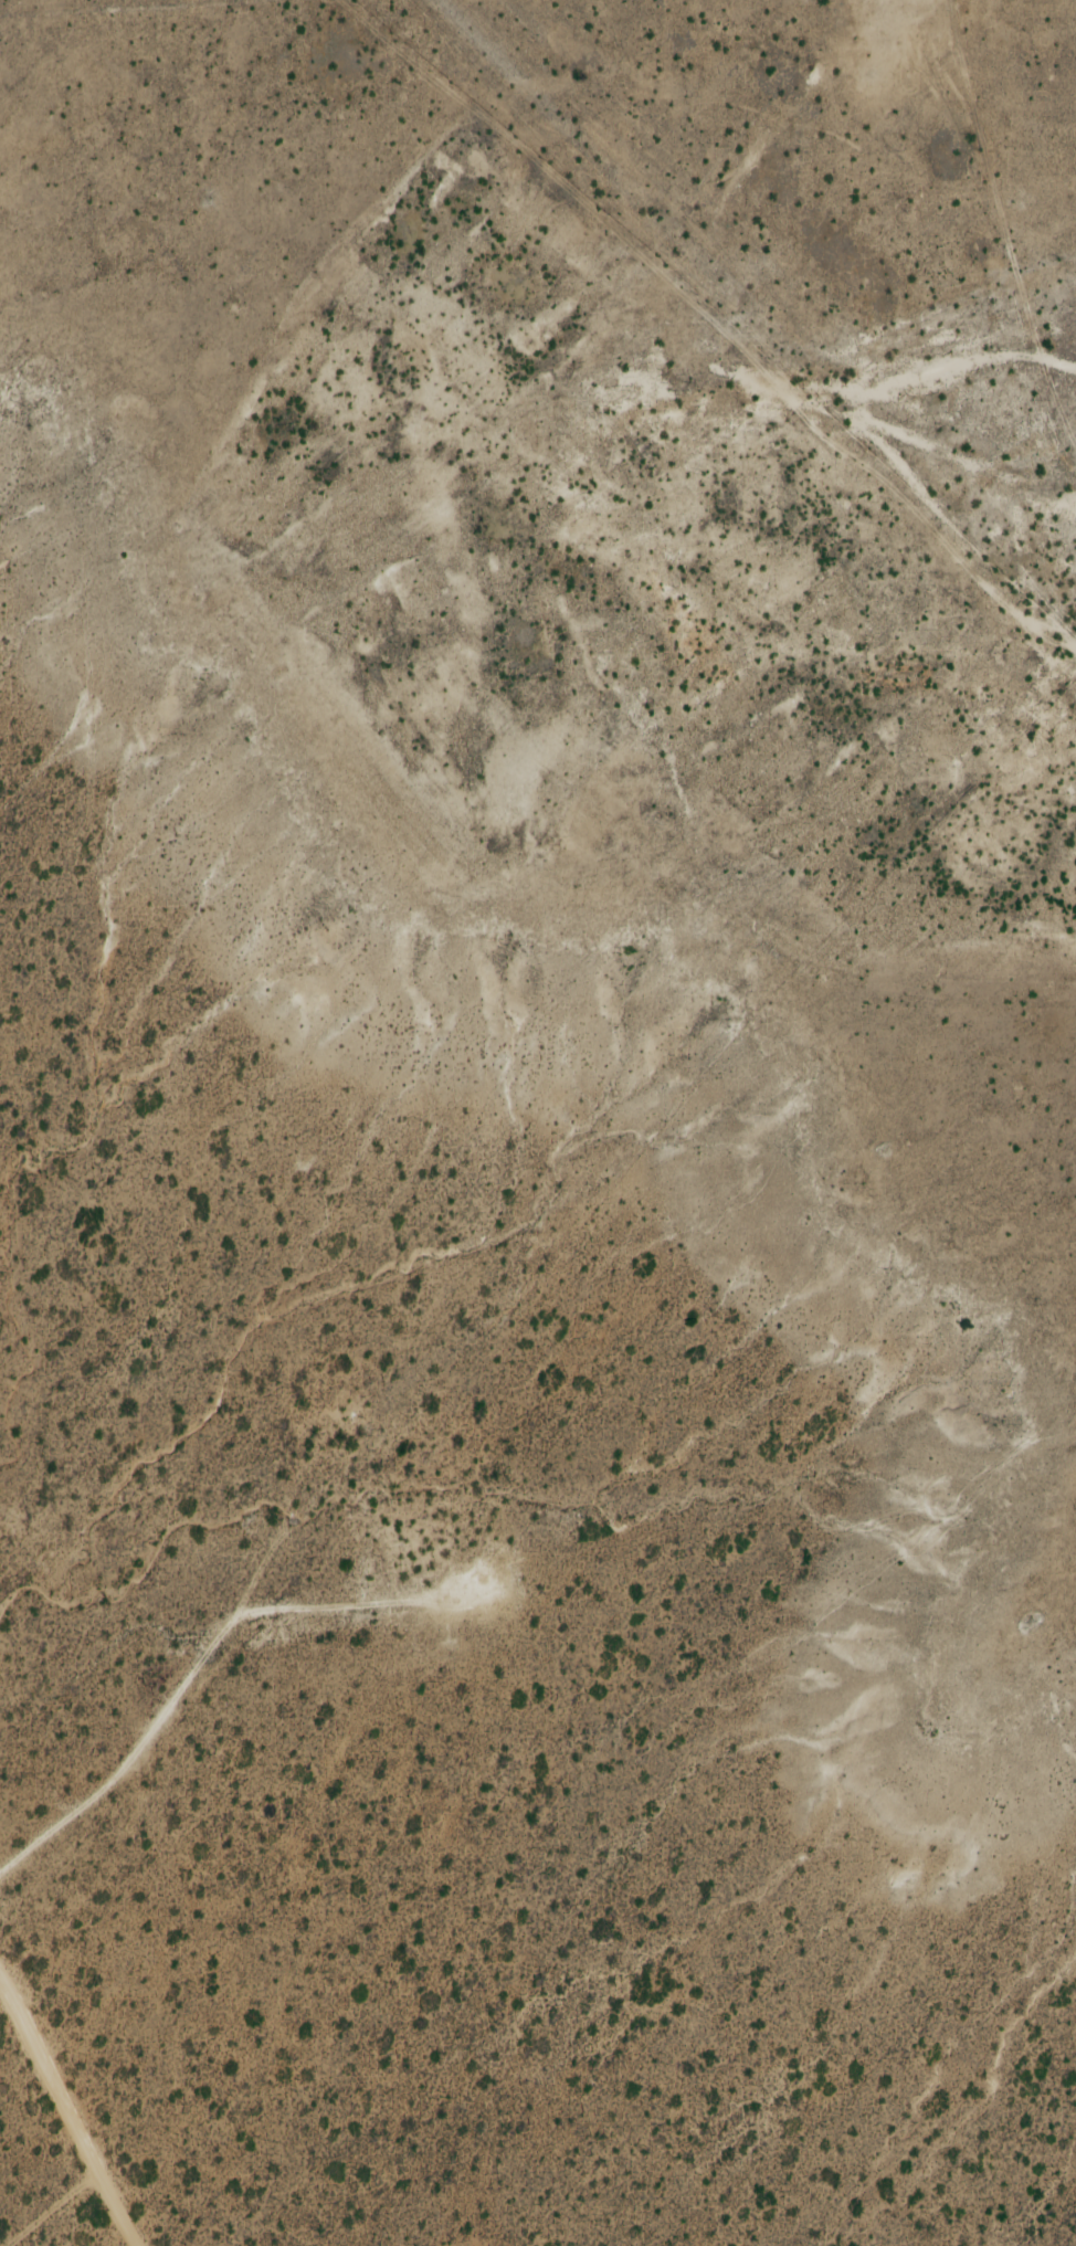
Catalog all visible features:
road: (151, 1729)
road: (70, 2112)

